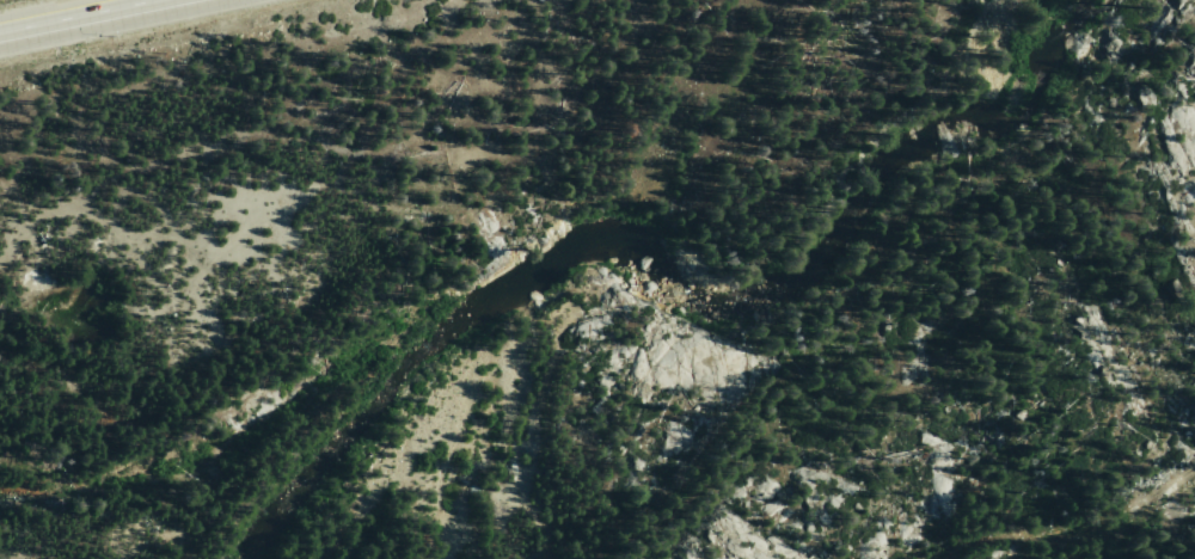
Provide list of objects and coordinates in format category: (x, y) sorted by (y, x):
road: (96, 19)
river: (966, 127)
river: (532, 274)
river: (128, 455)
road: (1068, 532)

